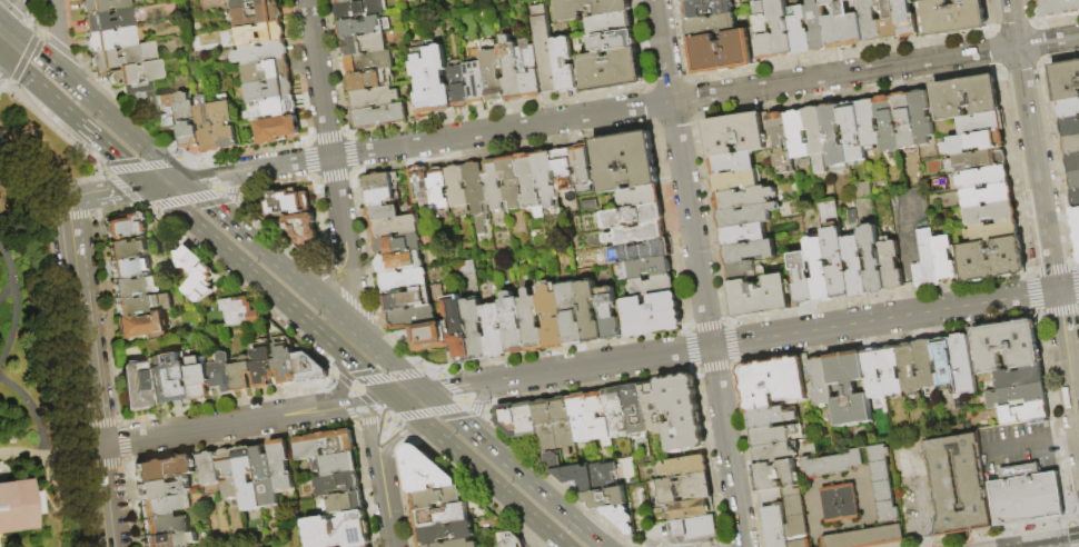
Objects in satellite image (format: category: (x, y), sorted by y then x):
building: (689, 0)
building: (346, 1)
building: (248, 3)
road: (1010, 4)
building: (102, 6)
building: (705, 8)
building: (1058, 8)
building: (359, 10)
road: (10, 12)
building: (608, 12)
building: (256, 16)
building: (952, 17)
building: (905, 18)
building: (870, 20)
building: (889, 20)
building: (107, 21)
building: (608, 22)
road: (1, 23)
road: (1, 24)
traffic signals: (2, 24)
building: (711, 24)
building: (816, 26)
building: (843, 26)
building: (363, 28)
building: (781, 28)
building: (799, 30)
road: (1, 31)
building: (763, 31)
road: (55, 36)
building: (254, 36)
building: (109, 39)
building: (613, 40)
road: (1017, 42)
building: (365, 44)
road: (30, 48)
building: (544, 49)
building: (721, 51)
building: (259, 53)
building: (122, 56)
road: (24, 58)
building: (368, 62)
building: (563, 63)
building: (511, 69)
building: (528, 69)
building: (607, 70)
building: (265, 71)
building: (492, 72)
building: (135, 73)
building: (438, 78)
building: (370, 79)
building: (1066, 79)
building: (422, 80)
building: (476, 82)
building: (458, 86)
building: (267, 90)
building: (374, 97)
building: (967, 97)
building: (139, 98)
road: (631, 108)
building: (1069, 108)
building: (270, 109)
building: (166, 112)
building: (380, 116)
building: (922, 116)
road: (73, 119)
road: (326, 120)
building: (905, 120)
building: (186, 121)
building: (224, 122)
building: (869, 122)
building: (888, 123)
building: (980, 125)
building: (206, 126)
building: (1070, 126)
road: (120, 127)
building: (276, 130)
building: (852, 132)
building: (734, 133)
building: (798, 135)
building: (816, 137)
building: (834, 138)
building: (781, 141)
building: (974, 142)
building: (1071, 143)
building: (977, 160)
building: (1072, 161)
building: (627, 162)
building: (733, 162)
building: (585, 165)
road: (36, 169)
building: (565, 171)
road: (1037, 171)
road: (683, 173)
building: (983, 177)
traffic signals: (182, 180)
building: (734, 180)
building: (1075, 180)
building: (512, 181)
road: (166, 182)
building: (378, 182)
traffic signals: (149, 185)
building: (494, 185)
building: (531, 185)
building: (548, 185)
road: (123, 186)
building: (420, 186)
building: (458, 187)
road: (191, 188)
building: (439, 190)
building: (863, 190)
road: (85, 191)
road: (232, 193)
building: (477, 195)
building: (989, 196)
building: (380, 197)
building: (642, 198)
building: (744, 198)
building: (1075, 198)
road: (164, 202)
building: (288, 202)
building: (384, 212)
building: (991, 213)
building: (746, 216)
building: (852, 216)
building: (633, 217)
road: (70, 218)
building: (1076, 220)
building: (127, 227)
building: (395, 228)
building: (304, 229)
building: (992, 231)
building: (637, 235)
building: (743, 235)
road: (249, 239)
building: (398, 246)
building: (835, 249)
building: (130, 250)
building: (749, 251)
building: (641, 252)
building: (872, 257)
building: (929, 258)
building: (944, 259)
road: (75, 260)
building: (992, 260)
building: (400, 263)
building: (891, 266)
building: (857, 267)
building: (129, 268)
building: (651, 268)
building: (820, 269)
road: (330, 271)
building: (741, 271)
road: (12, 273)
building: (196, 275)
building: (465, 275)
building: (919, 276)
building: (803, 278)
road: (1055, 278)
building: (404, 281)
building: (135, 287)
building: (654, 287)
road: (353, 289)
road: (1068, 289)
road: (271, 290)
road: (339, 290)
building: (763, 296)
building: (407, 300)
building: (142, 305)
road: (330, 309)
building: (240, 312)
building: (591, 312)
building: (610, 314)
building: (572, 315)
building: (651, 316)
building: (412, 318)
building: (553, 319)
road: (884, 319)
road: (16, 320)
building: (533, 324)
building: (514, 325)
building: (142, 327)
building: (457, 329)
building: (475, 330)
building: (496, 331)
park: (29, 335)
building: (428, 338)
building: (1004, 347)
road: (1068, 360)
building: (264, 364)
building: (946, 364)
road: (394, 365)
building: (964, 365)
road: (87, 366)
building: (927, 366)
building: (294, 368)
building: (909, 369)
road: (409, 370)
road: (568, 370)
building: (892, 371)
building: (222, 375)
building: (873, 375)
building: (242, 376)
road: (343, 378)
building: (200, 379)
building: (1021, 379)
building: (159, 381)
building: (179, 381)
building: (776, 384)
building: (821, 384)
building: (135, 386)
building: (850, 389)
traffic signals: (426, 394)
road: (409, 396)
building: (1018, 397)
traffic signals: (394, 398)
road: (403, 406)
road: (479, 407)
building: (652, 407)
road: (378, 409)
road: (442, 409)
building: (635, 410)
road: (33, 411)
building: (617, 414)
building: (682, 414)
building: (1027, 414)
building: (772, 418)
building: (582, 419)
building: (509, 420)
building: (527, 420)
building: (595, 420)
road: (246, 421)
road: (362, 422)
building: (556, 426)
road: (372, 430)
road: (396, 437)
building: (773, 437)
traffic signals: (396, 438)
road: (1062, 441)
building: (326, 445)
road: (727, 446)
parking lot: (1017, 448)
road: (1018, 448)
building: (774, 454)
road: (49, 456)
building: (554, 461)
building: (339, 465)
building: (283, 466)
building: (686, 468)
building: (165, 469)
building: (211, 469)
road: (515, 470)
building: (425, 473)
building: (229, 476)
building: (607, 476)
building: (775, 477)
building: (266, 478)
building: (578, 478)
building: (248, 480)
road: (488, 480)
building: (958, 484)
building: (338, 485)
building: (164, 488)
building: (680, 491)
road: (917, 491)
road: (103, 496)
building: (1024, 496)
building: (771, 497)
building: (443, 498)
building: (606, 499)
building: (348, 503)
building: (885, 503)
building: (794, 504)
building: (17, 505)
building: (839, 505)
building: (157, 506)
road: (387, 508)
building: (692, 510)
building: (640, 515)
building: (442, 517)
building: (621, 521)
building: (159, 525)
building: (776, 527)
building: (798, 528)
building: (697, 529)
building: (339, 531)
building: (445, 534)
building: (171, 539)
building: (511, 540)
road: (924, 540)
road: (1048, 541)
building: (458, 545)
building: (801, 545)

